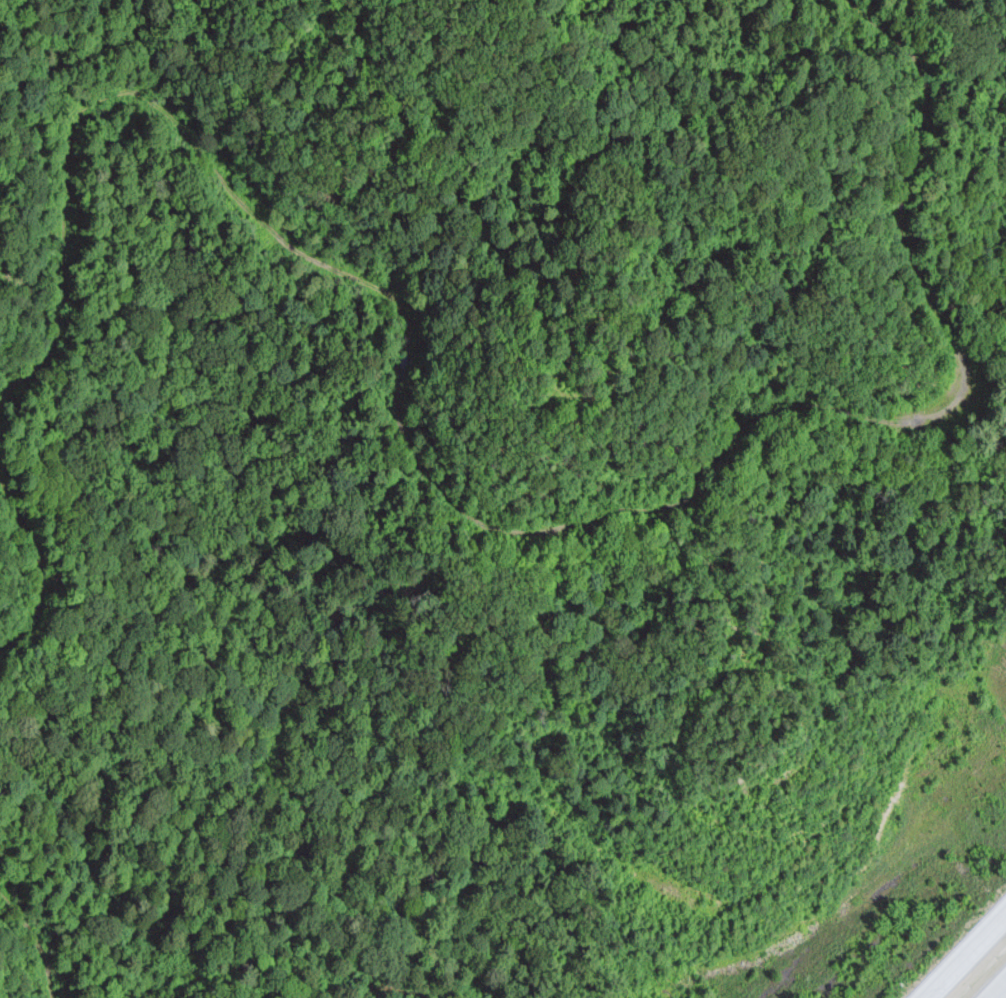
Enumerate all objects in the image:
road: (967, 959)
road: (998, 989)

